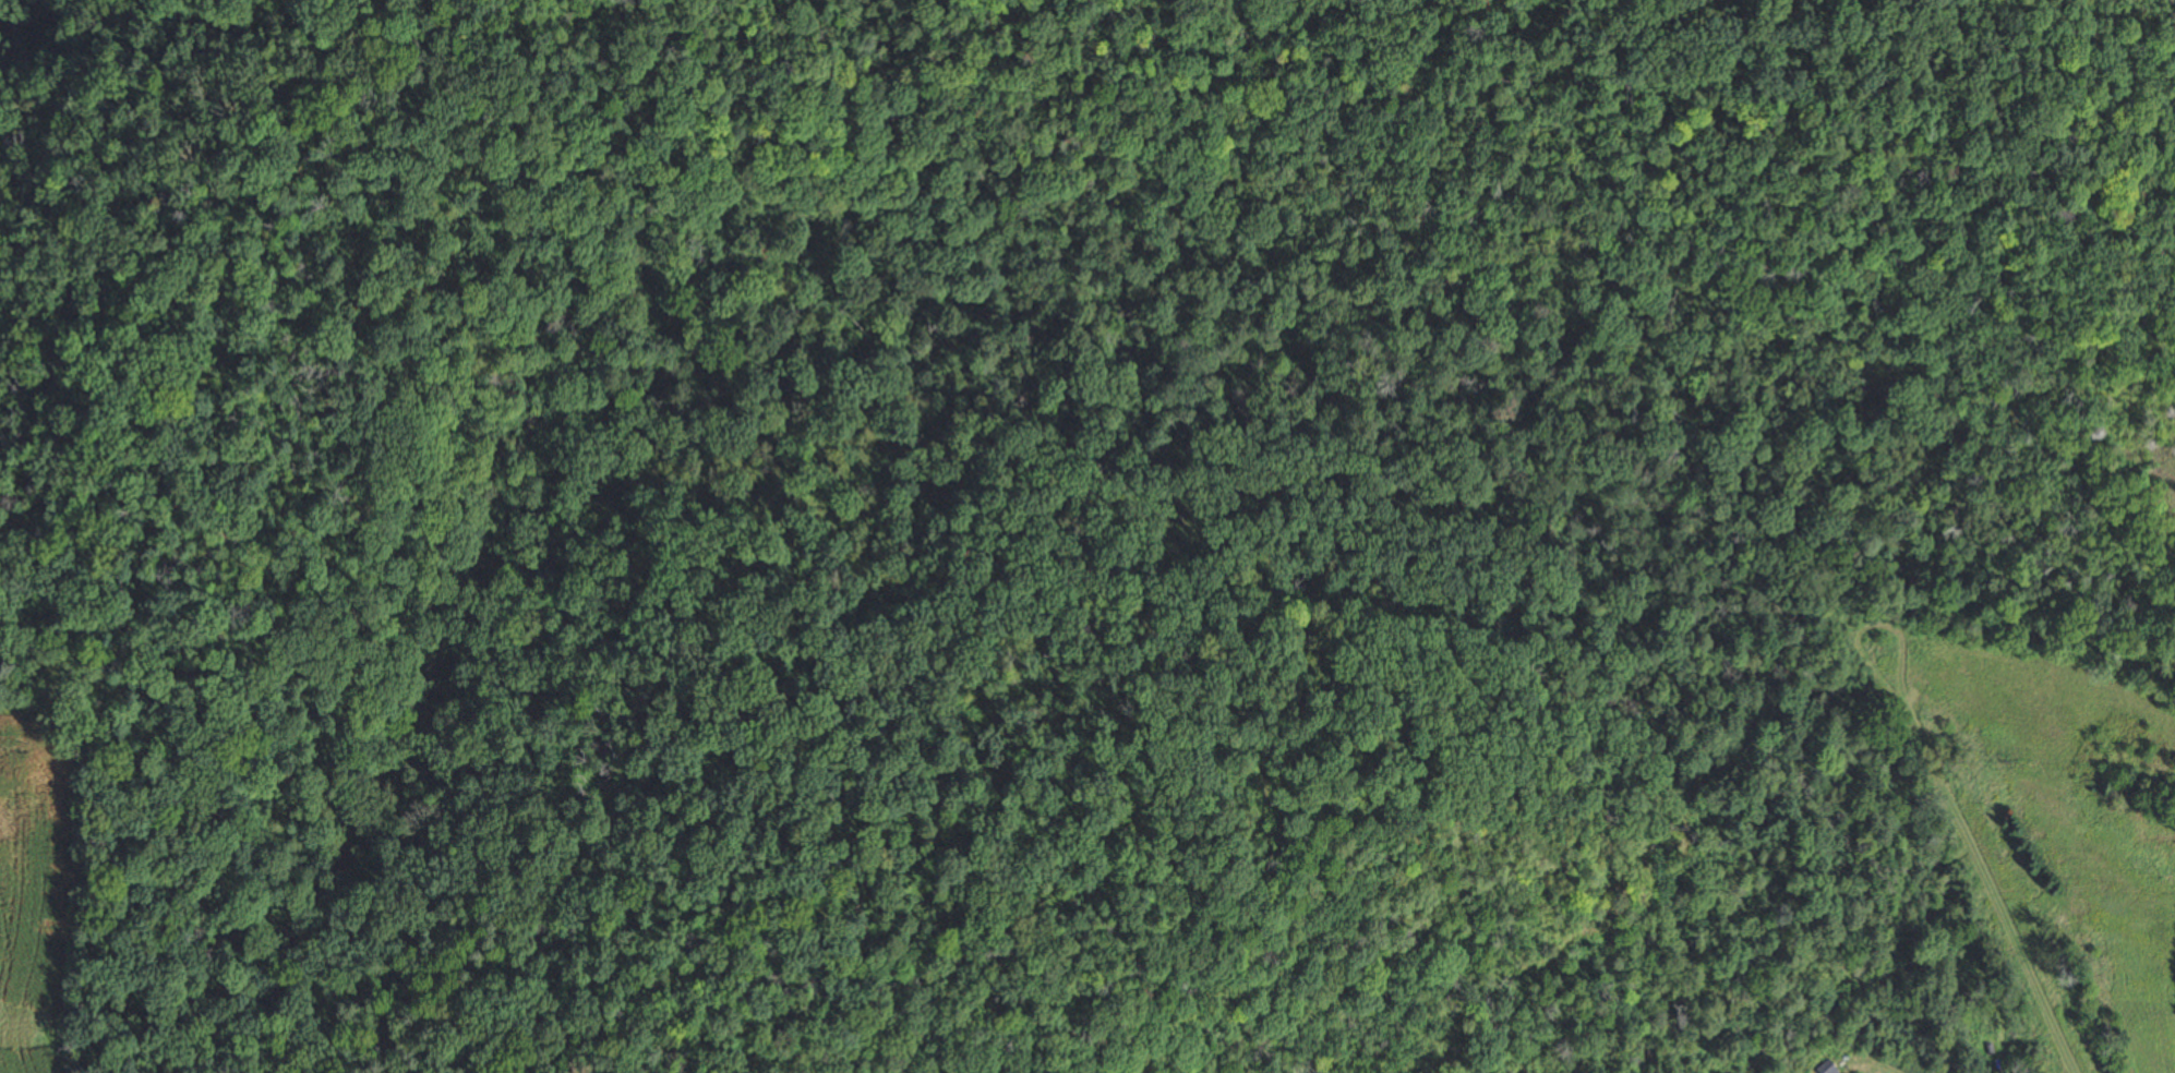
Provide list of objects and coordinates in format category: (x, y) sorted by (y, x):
building: (1824, 1068)

